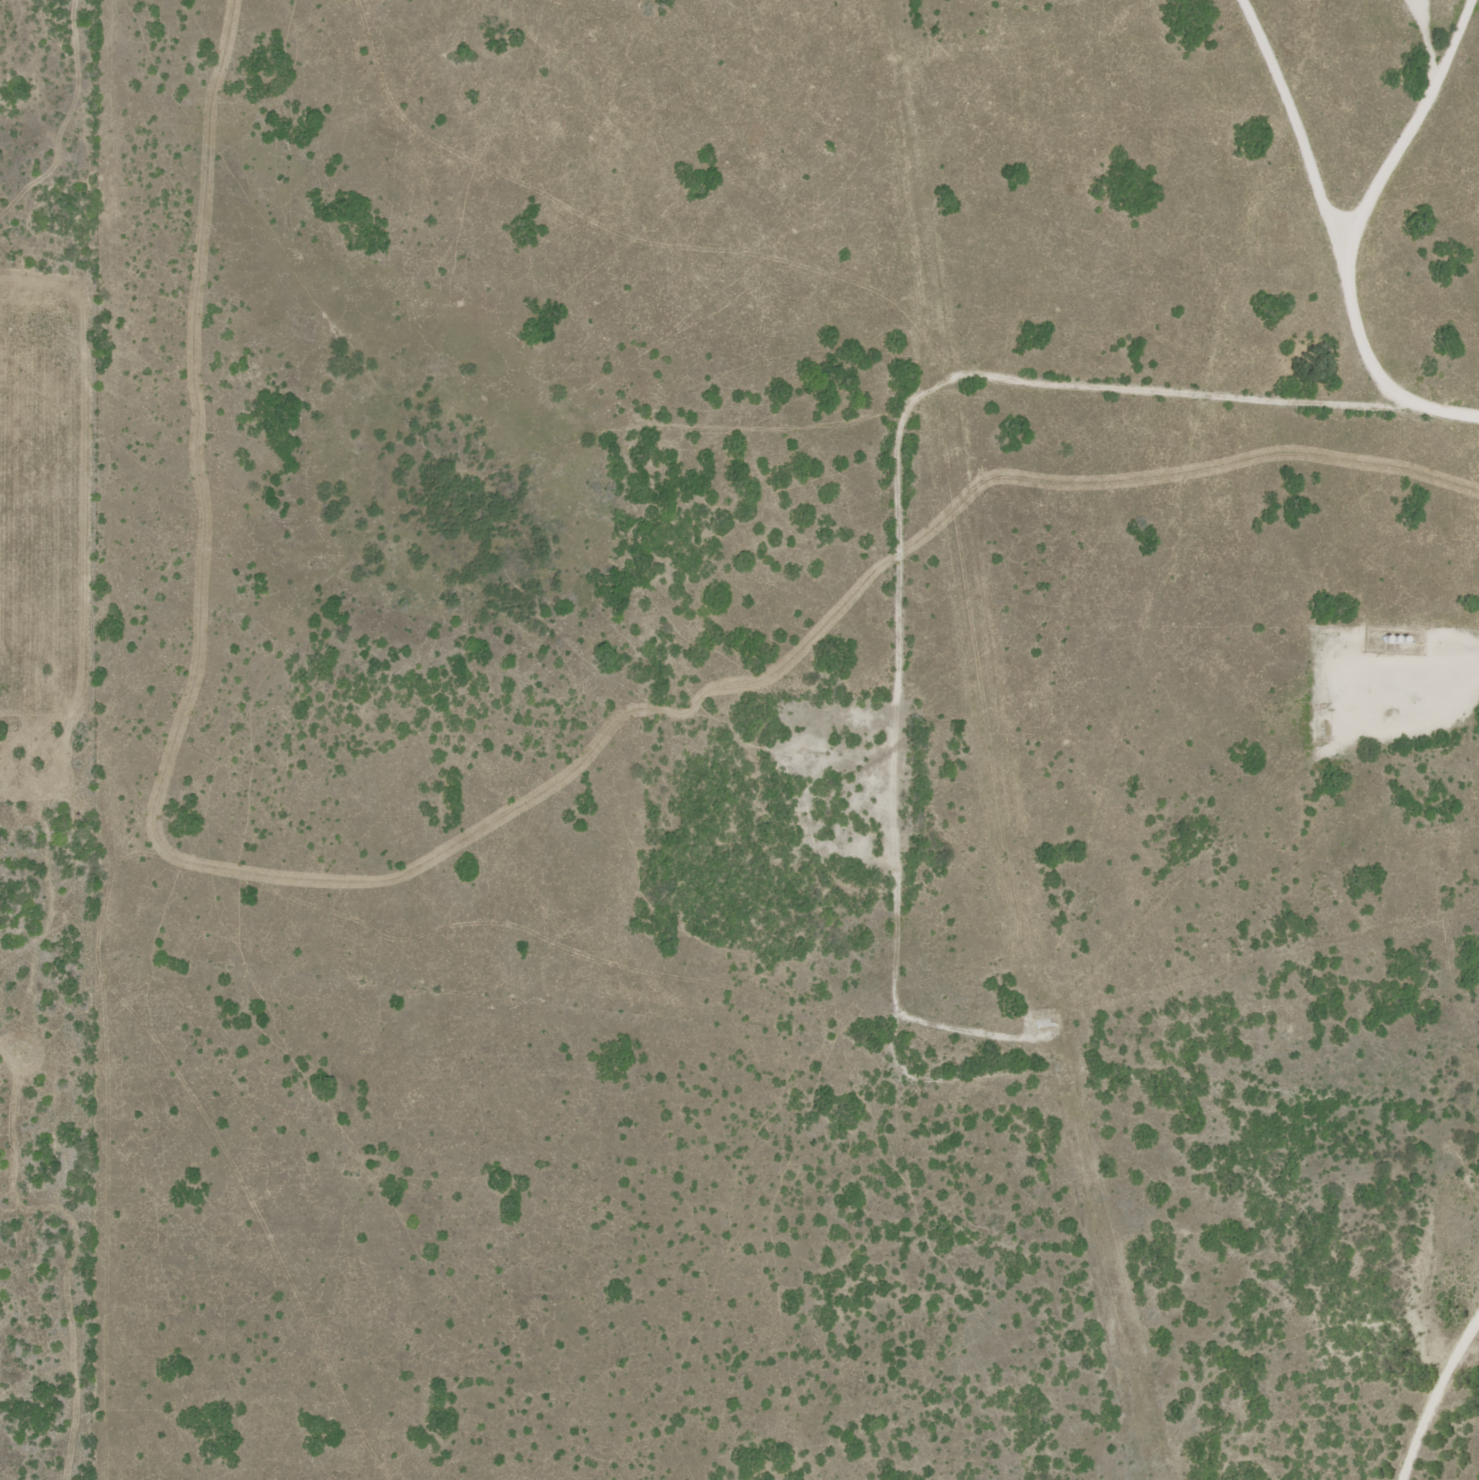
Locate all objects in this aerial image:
road: (1280, 117)
road: (1338, 231)
road: (1407, 707)
road: (1441, 1389)

